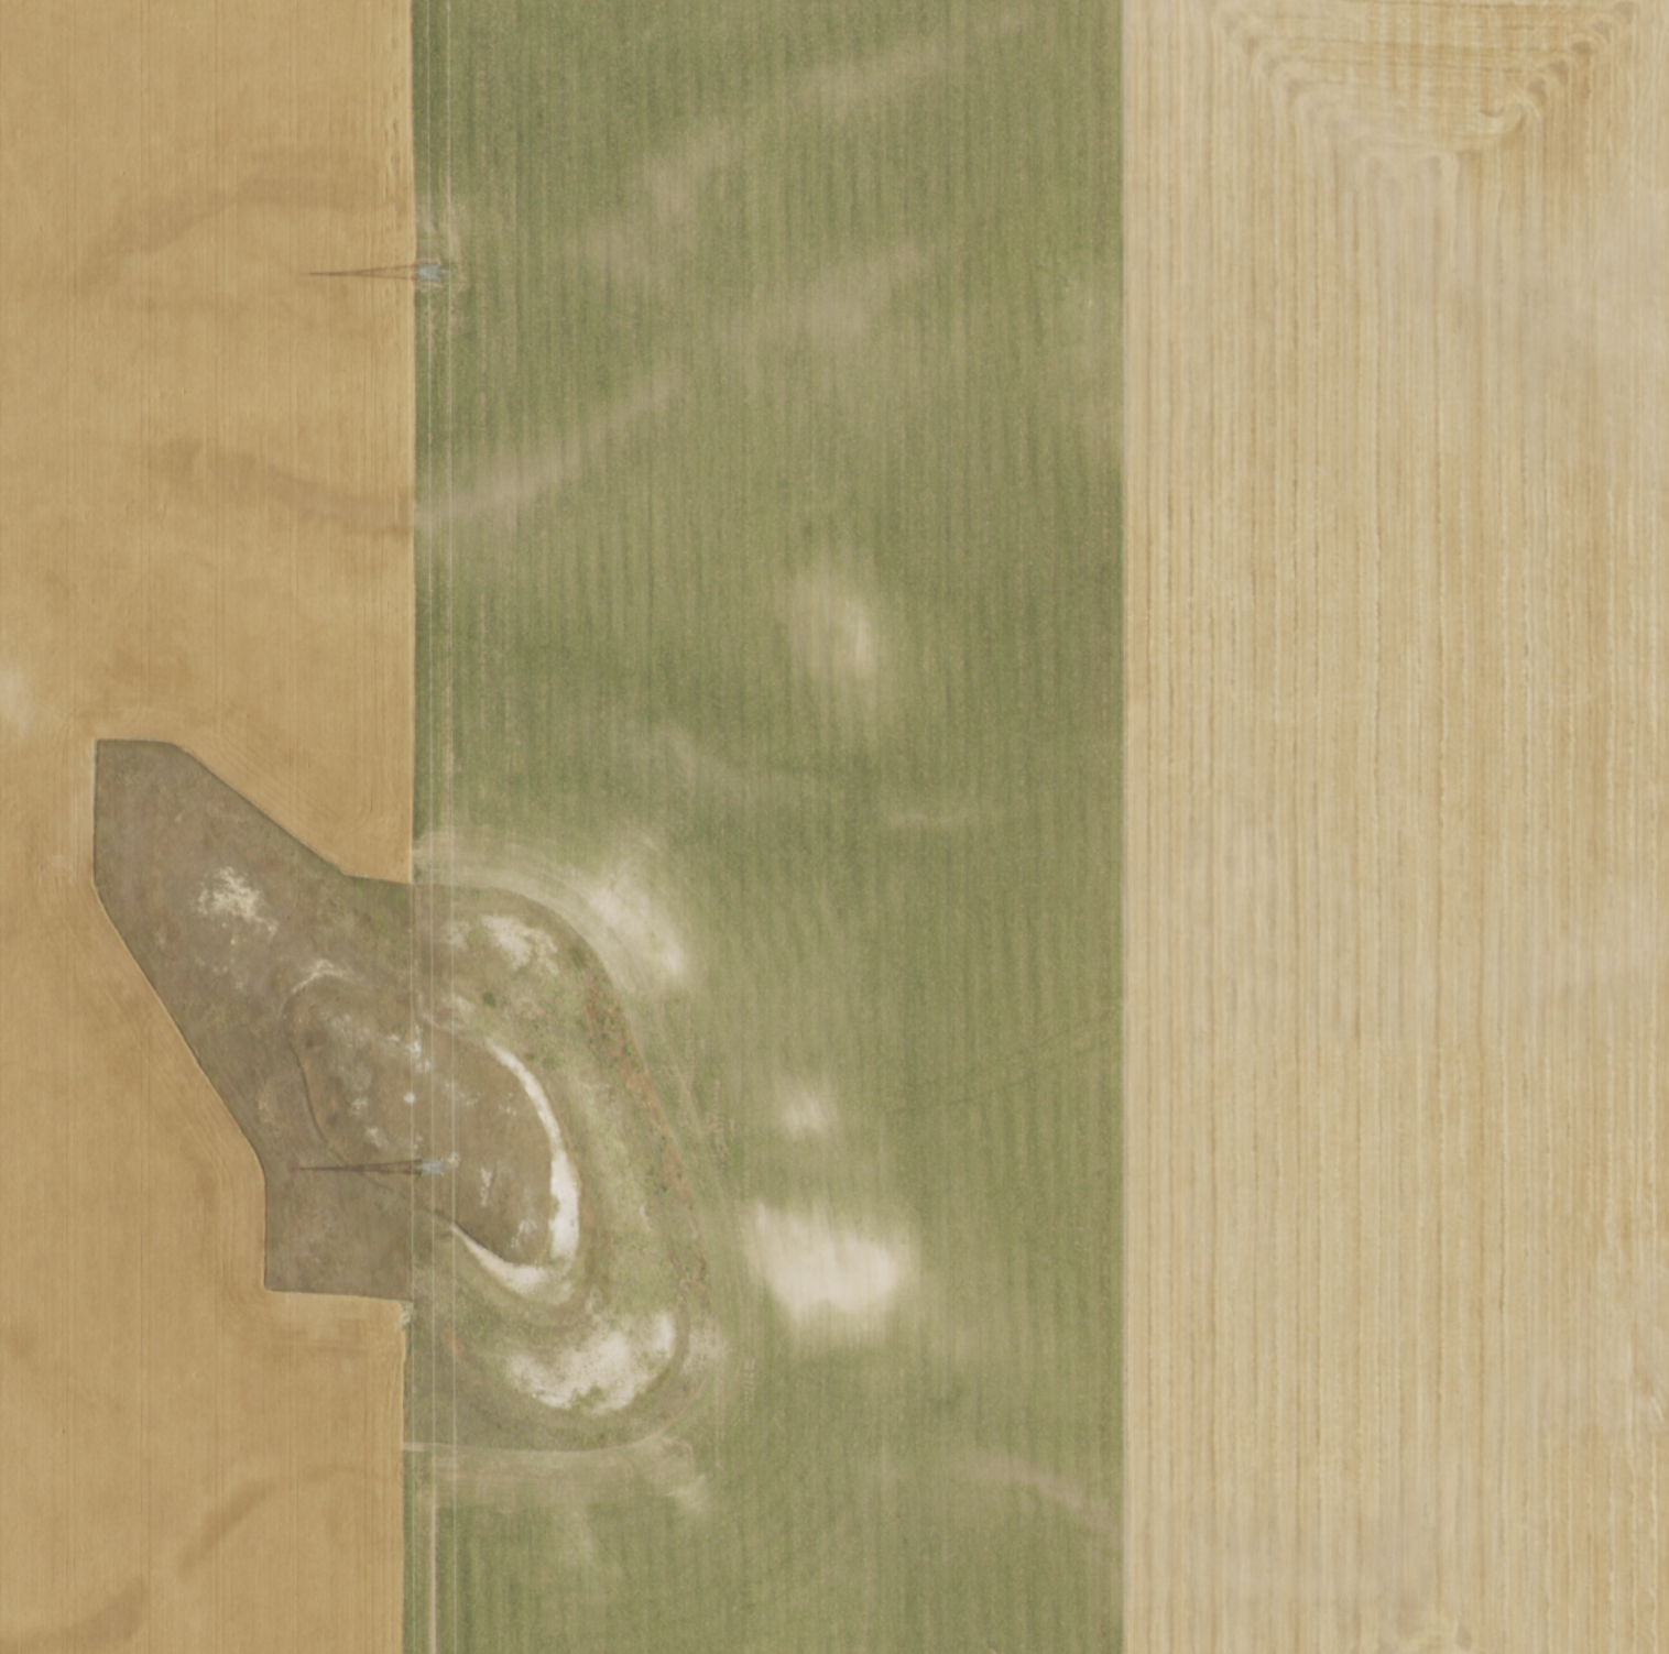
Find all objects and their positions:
power tower: (424, 267)
power tower: (430, 1168)

